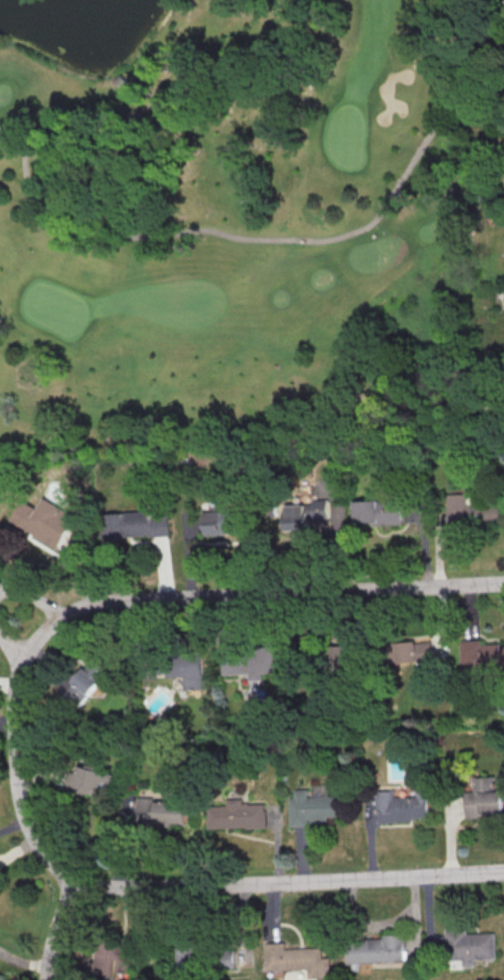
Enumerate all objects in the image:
building: (125, 83)
park: (230, 223)
road: (268, 239)
building: (473, 510)
building: (380, 512)
building: (310, 515)
building: (47, 520)
building: (224, 522)
building: (138, 524)
road: (33, 596)
road: (133, 602)
road: (11, 646)
building: (414, 651)
building: (344, 656)
building: (482, 656)
building: (250, 662)
building: (191, 669)
building: (87, 682)
building: (92, 780)
building: (484, 798)
building: (403, 806)
building: (313, 808)
building: (161, 812)
building: (235, 814)
building: (120, 872)
road: (288, 881)
road: (382, 922)
road: (55, 928)
building: (473, 946)
building: (379, 949)
building: (114, 958)
building: (299, 959)
building: (187, 960)

